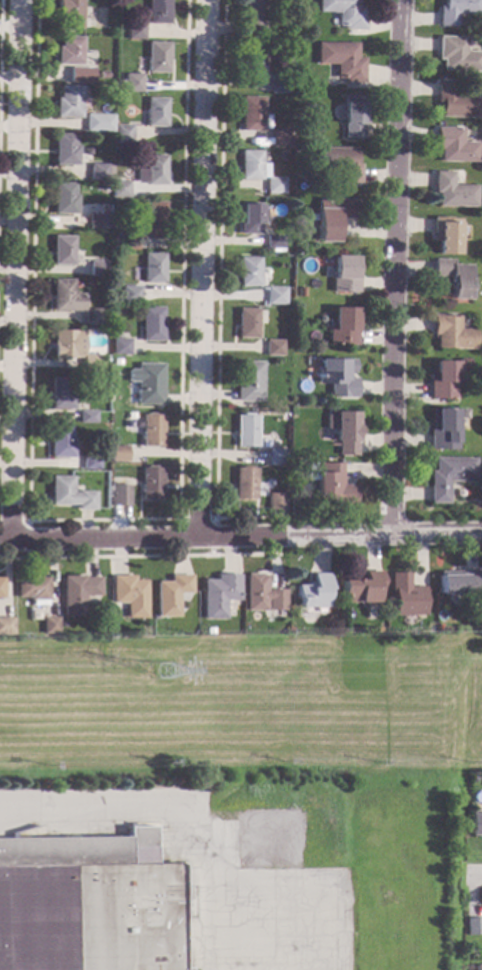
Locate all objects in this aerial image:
building: (455, 10)
building: (157, 11)
building: (299, 11)
building: (69, 12)
building: (343, 12)
building: (251, 17)
building: (134, 30)
road: (0, 45)
building: (69, 50)
building: (456, 54)
building: (156, 56)
building: (251, 58)
building: (340, 59)
building: (77, 72)
building: (102, 75)
building: (131, 82)
building: (277, 83)
building: (289, 83)
building: (68, 101)
building: (454, 101)
building: (155, 111)
building: (252, 114)
building: (352, 116)
building: (97, 122)
building: (122, 133)
building: (278, 137)
building: (290, 141)
building: (454, 145)
building: (64, 149)
building: (339, 161)
building: (251, 165)
building: (152, 170)
building: (100, 172)
building: (274, 185)
building: (120, 188)
building: (452, 190)
building: (64, 198)
building: (333, 215)
building: (248, 218)
building: (150, 219)
building: (98, 221)
building: (446, 234)
building: (128, 241)
building: (273, 241)
building: (61, 250)
building: (97, 267)
road: (201, 267)
road: (397, 267)
building: (150, 268)
road: (15, 269)
building: (248, 271)
building: (344, 273)
building: (453, 276)
building: (301, 292)
building: (129, 293)
road: (218, 294)
building: (64, 295)
building: (274, 295)
building: (92, 316)
building: (320, 318)
building: (246, 322)
building: (151, 323)
building: (343, 326)
building: (453, 333)
building: (63, 343)
building: (119, 346)
building: (298, 346)
building: (272, 347)
building: (90, 359)
building: (337, 376)
building: (445, 378)
building: (247, 380)
building: (147, 382)
building: (60, 393)
building: (85, 416)
building: (445, 427)
building: (150, 430)
building: (244, 430)
building: (342, 430)
building: (61, 442)
building: (117, 453)
building: (274, 456)
building: (89, 462)
building: (448, 475)
building: (149, 482)
building: (243, 482)
building: (331, 485)
building: (68, 493)
building: (118, 495)
building: (274, 501)
road: (195, 518)
road: (101, 520)
road: (13, 521)
road: (240, 535)
road: (139, 556)
building: (457, 581)
building: (0, 587)
building: (32, 589)
building: (311, 590)
building: (360, 591)
building: (76, 592)
building: (168, 593)
building: (259, 593)
building: (216, 594)
building: (403, 594)
building: (126, 595)
building: (456, 604)
building: (48, 624)
building: (5, 625)
building: (207, 630)
power tower: (162, 672)
road: (241, 691)
road: (182, 802)
building: (475, 823)
road: (479, 873)
road: (310, 892)
building: (87, 902)
building: (473, 925)
road: (271, 938)
building: (477, 967)

